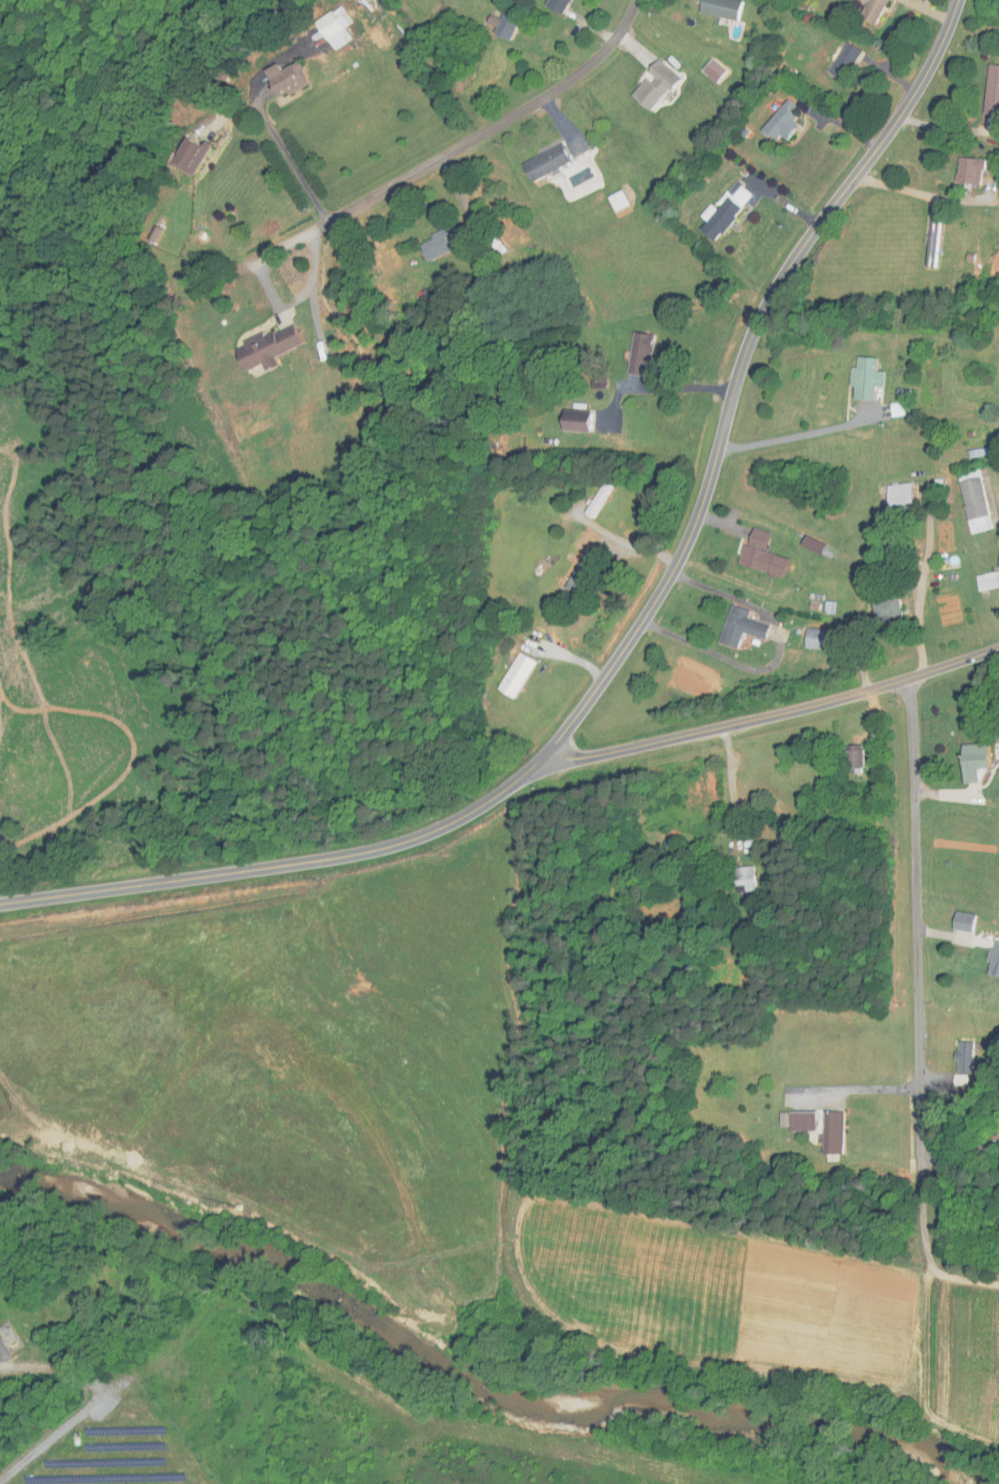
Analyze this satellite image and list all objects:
building: (552, 6)
building: (713, 9)
building: (866, 10)
building: (996, 16)
building: (840, 61)
building: (647, 87)
building: (989, 90)
building: (776, 123)
road: (496, 127)
building: (558, 165)
building: (962, 172)
building: (714, 220)
building: (457, 241)
building: (925, 242)
road: (270, 291)
building: (281, 350)
building: (631, 352)
building: (857, 376)
building: (997, 417)
building: (567, 418)
road: (795, 435)
building: (892, 496)
building: (591, 498)
building: (967, 499)
building: (585, 542)
building: (755, 553)
building: (995, 559)
building: (571, 571)
building: (981, 580)
building: (879, 607)
building: (732, 626)
road: (632, 638)
building: (819, 638)
road: (777, 657)
building: (527, 675)
road: (774, 715)
building: (850, 756)
building: (966, 761)
road: (731, 785)
building: (739, 879)
building: (958, 921)
building: (990, 958)
road: (916, 974)
building: (960, 1061)
building: (789, 1120)
building: (827, 1132)
road: (919, 1271)
road: (959, 1277)
road: (928, 1380)

